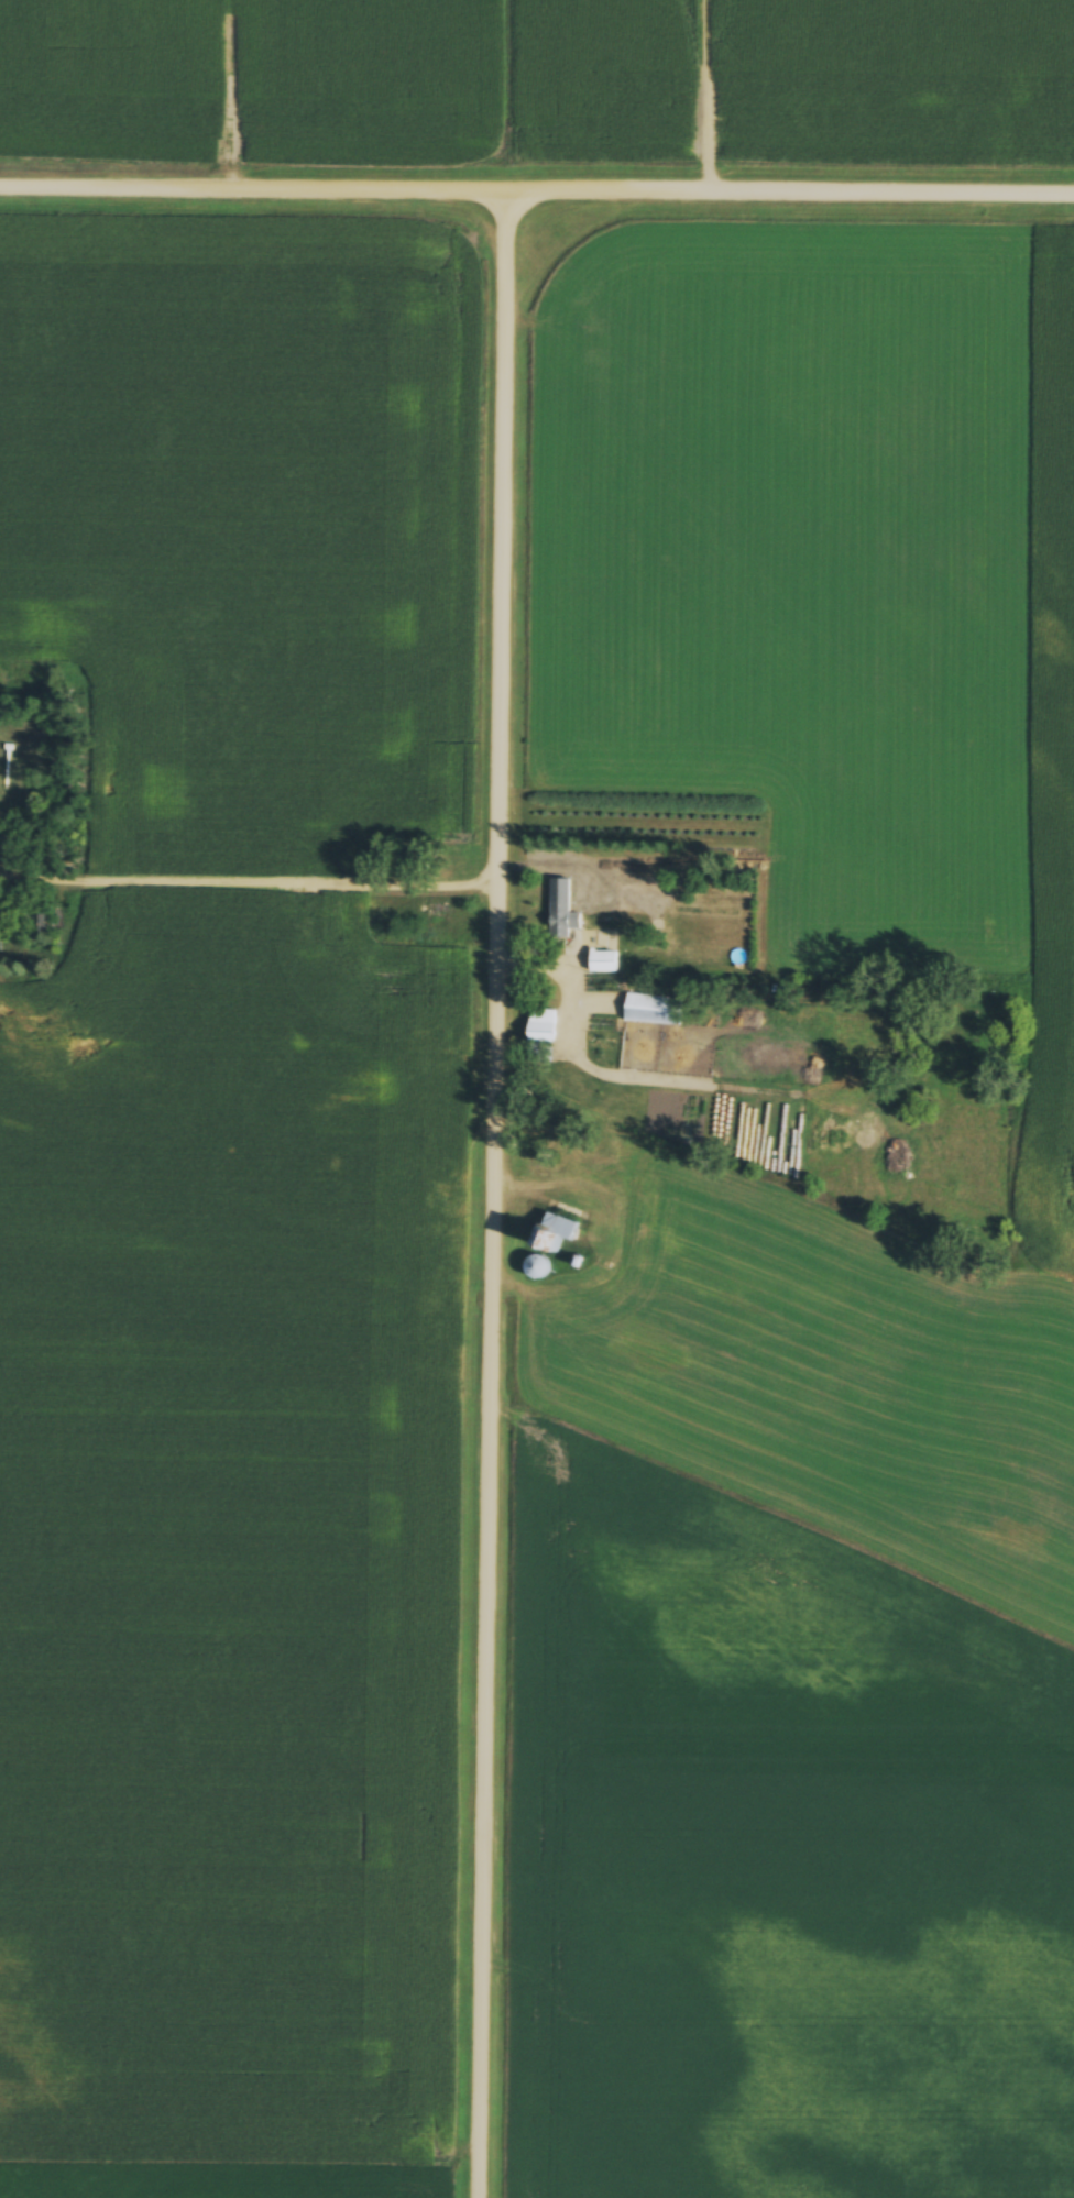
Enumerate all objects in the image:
road: (536, 193)
road: (249, 891)
building: (566, 936)
building: (602, 965)
building: (653, 1012)
road: (493, 1195)
building: (557, 1234)
road: (771, 1234)

